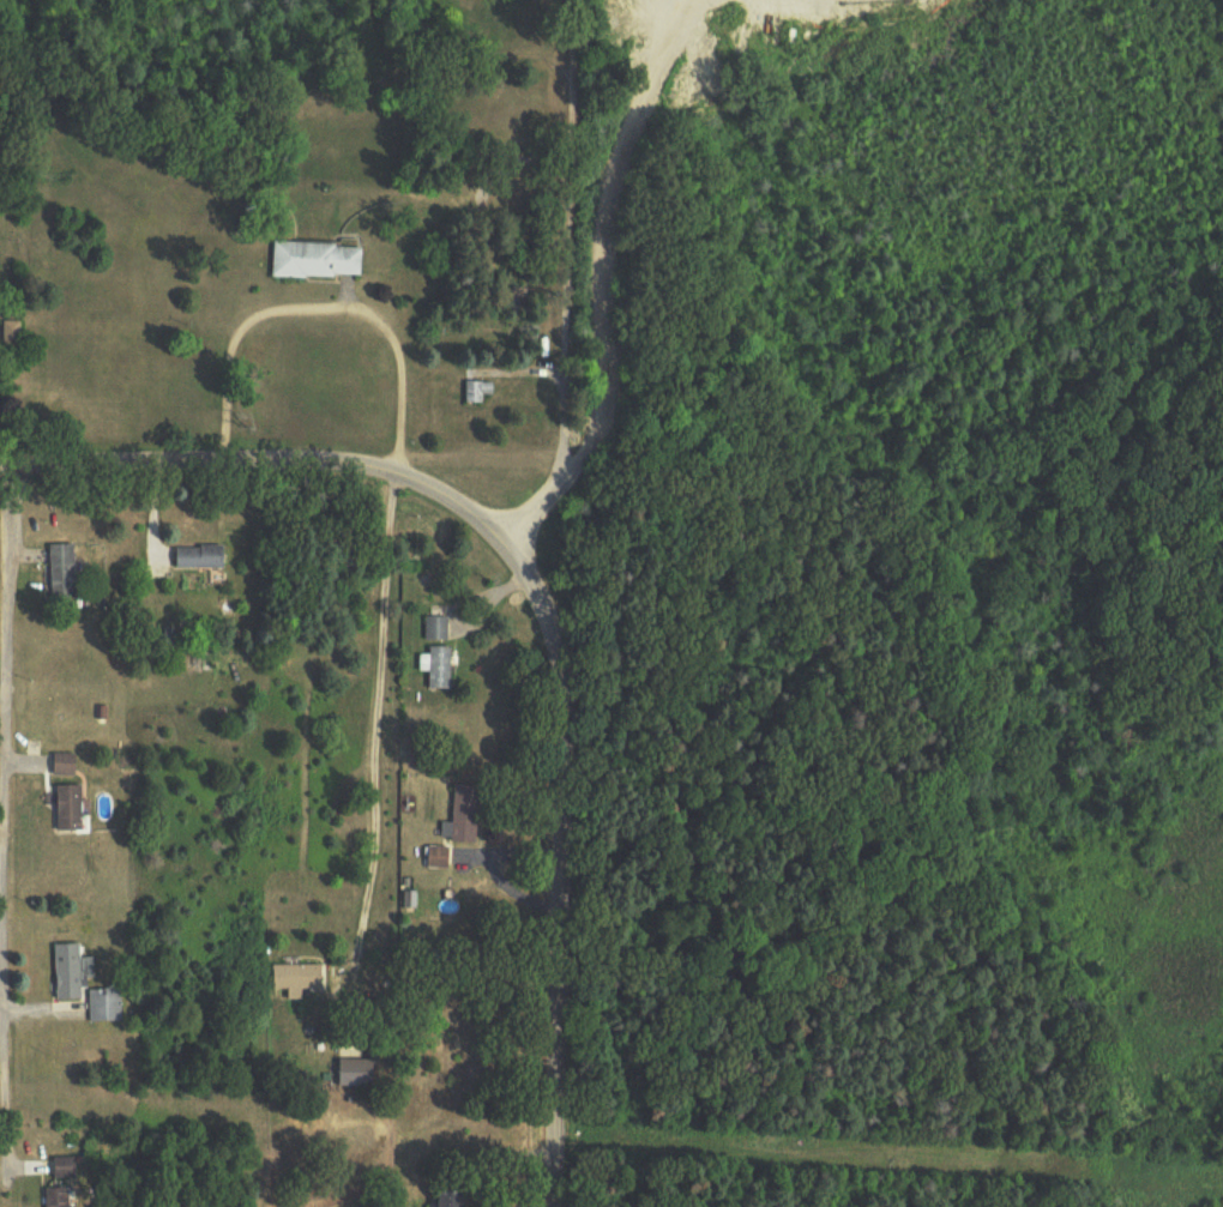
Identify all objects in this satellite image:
building: (783, 18)
road: (565, 260)
building: (319, 262)
road: (613, 273)
road: (325, 307)
building: (13, 336)
building: (478, 392)
road: (261, 459)
building: (200, 557)
building: (62, 572)
building: (436, 628)
building: (439, 668)
road: (376, 717)
building: (66, 765)
road: (5, 808)
building: (71, 808)
building: (466, 814)
building: (438, 858)
road: (560, 865)
road: (492, 867)
building: (70, 973)
building: (297, 979)
building: (106, 1006)
building: (356, 1073)
building: (65, 1169)
building: (58, 1197)
building: (453, 1199)

